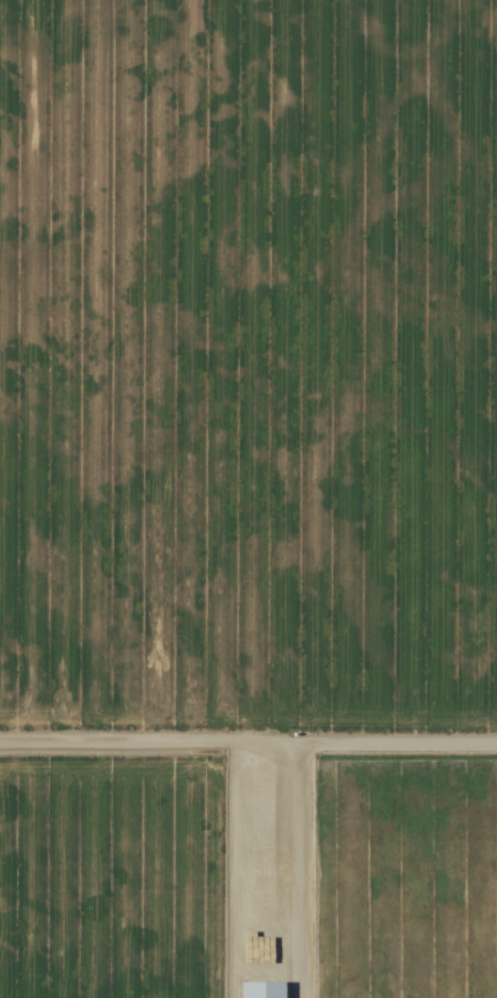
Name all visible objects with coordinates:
road: (287, 499)
road: (248, 791)
building: (263, 990)

